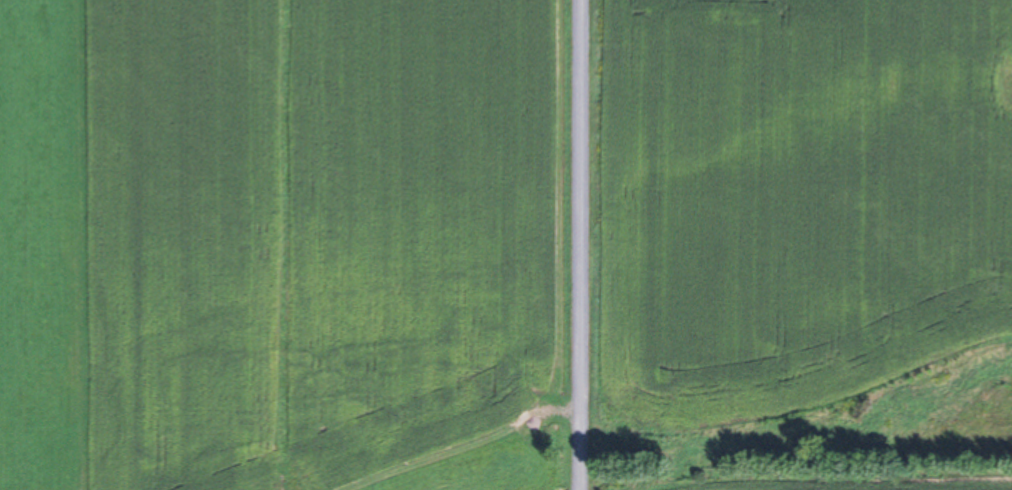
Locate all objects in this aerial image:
road: (581, 245)

